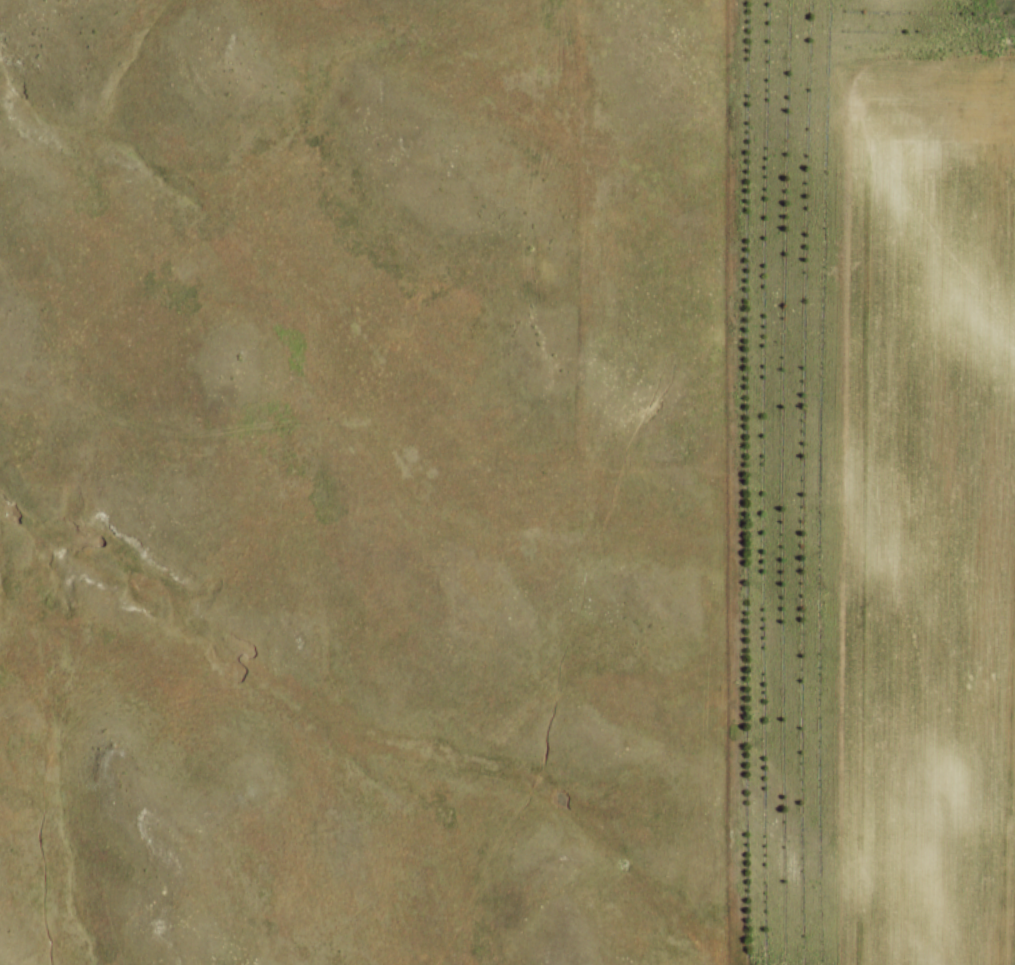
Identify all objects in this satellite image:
crop: (921, 503)

